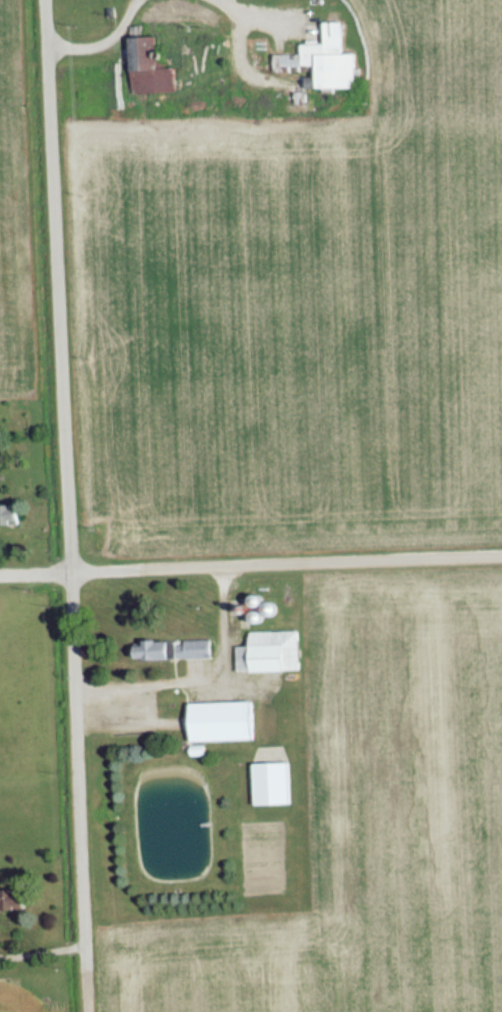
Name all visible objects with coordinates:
road: (254, 16)
road: (101, 42)
crop: (432, 53)
building: (151, 70)
crop: (4, 268)
crop: (288, 328)
road: (68, 485)
road: (322, 559)
road: (70, 570)
building: (223, 722)
crop: (366, 824)
road: (86, 992)
crop: (17, 999)

